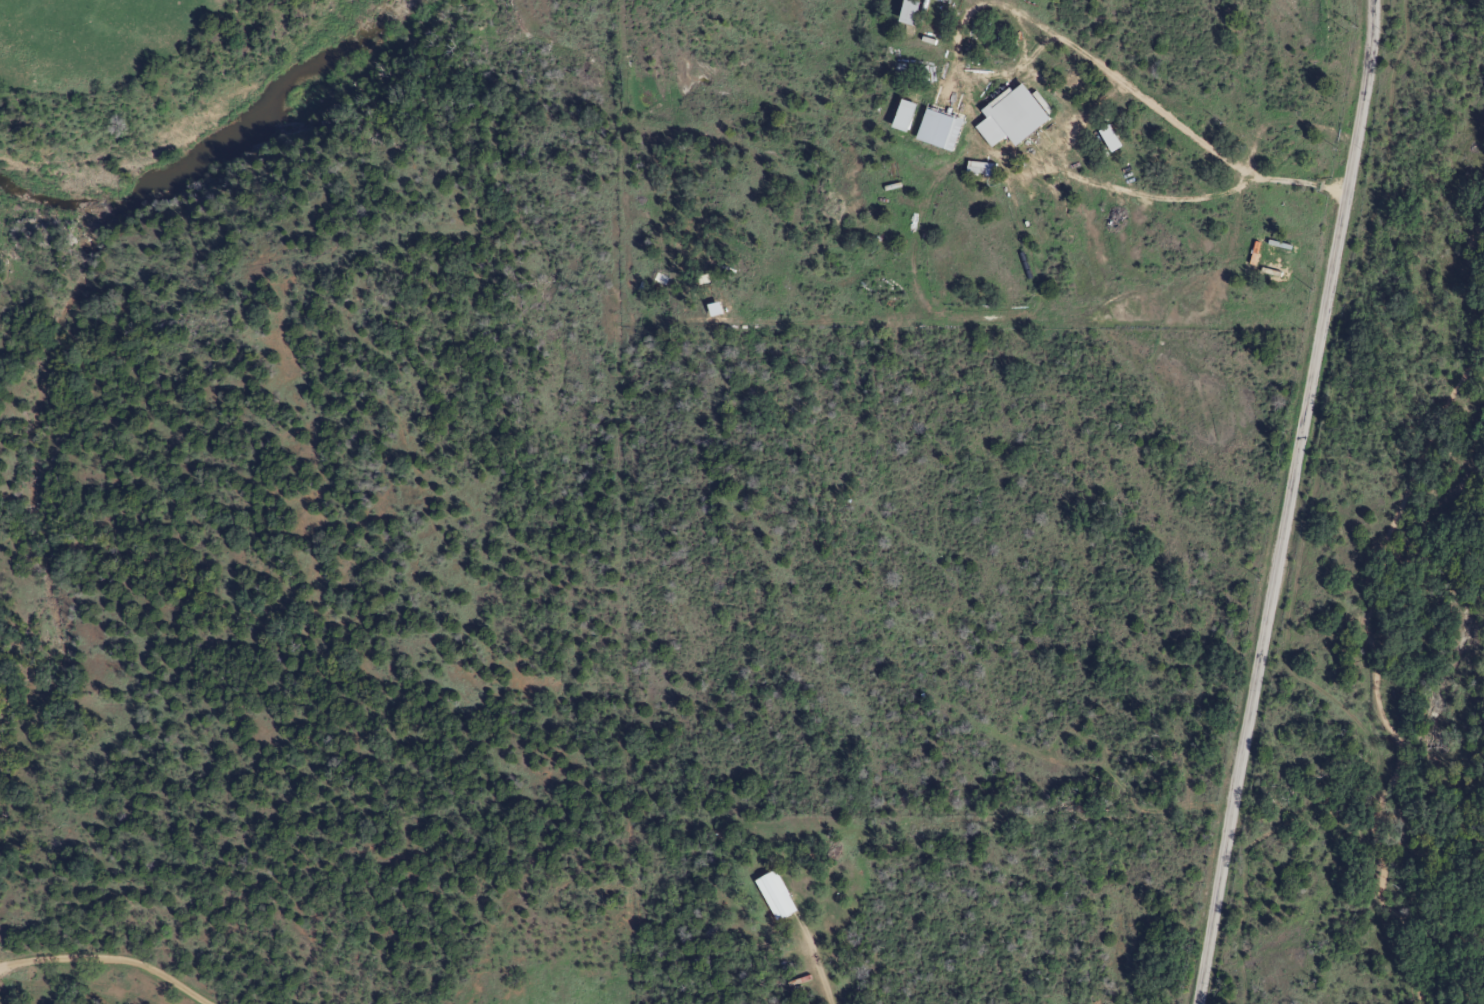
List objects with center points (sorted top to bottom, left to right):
building: (901, 13)
building: (1009, 115)
building: (897, 116)
building: (976, 170)
road: (1288, 502)
building: (767, 894)
road: (109, 959)

